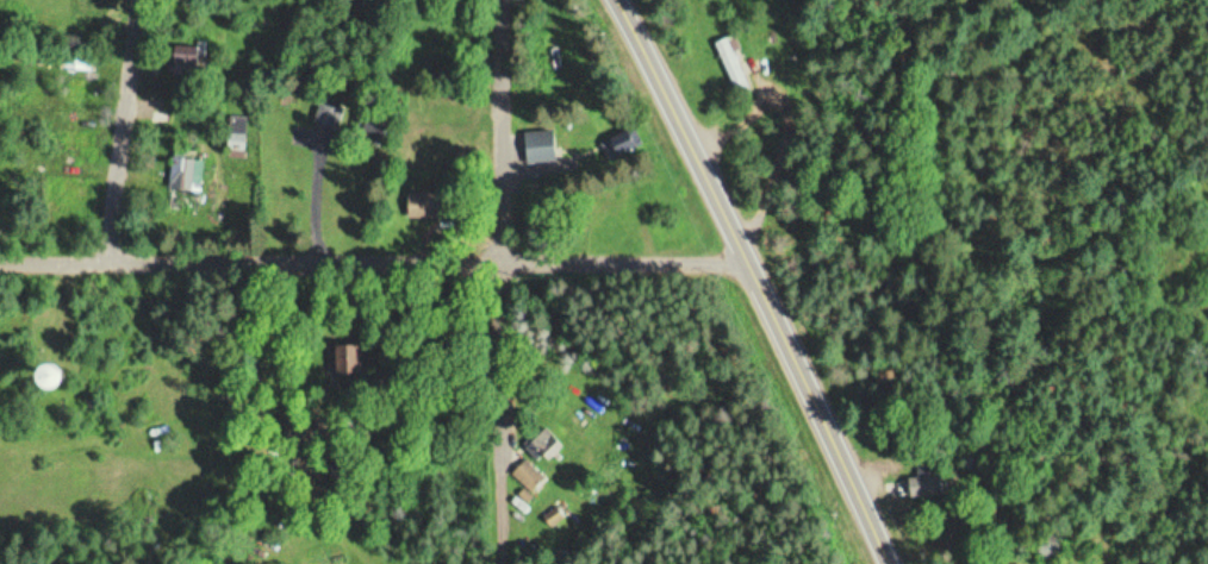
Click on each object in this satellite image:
building: (192, 57)
building: (733, 63)
building: (334, 111)
road: (125, 130)
building: (238, 136)
building: (541, 143)
building: (622, 145)
building: (443, 149)
building: (183, 200)
building: (429, 206)
road: (381, 267)
road: (765, 275)
road: (510, 282)
building: (343, 358)
building: (71, 374)
building: (544, 446)
building: (529, 475)
building: (928, 483)
building: (554, 515)

